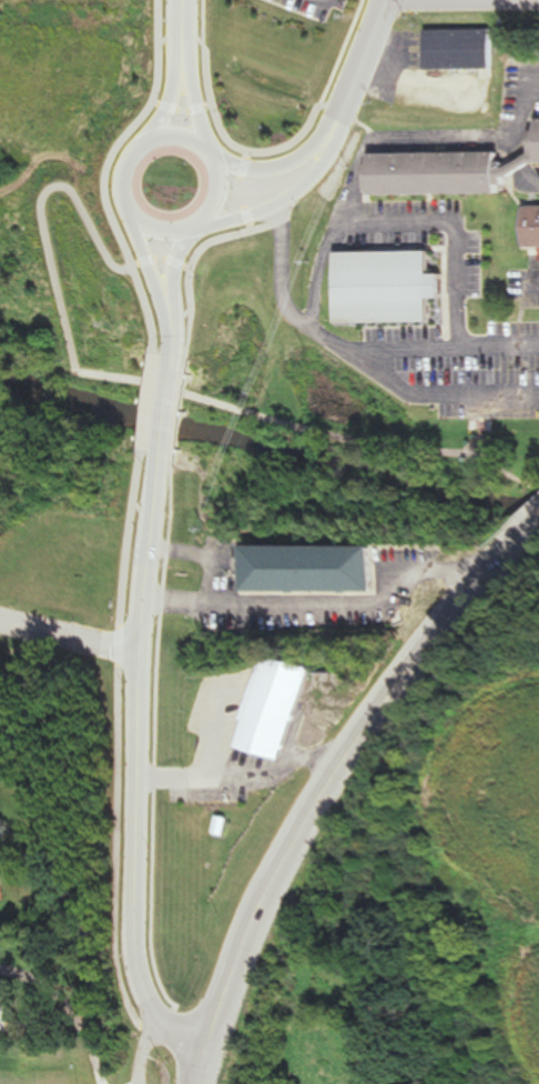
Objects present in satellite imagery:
road: (338, 1)
parking lot: (318, 8)
road: (187, 19)
road: (175, 42)
road: (199, 43)
building: (460, 50)
road: (360, 62)
road: (175, 92)
road: (200, 99)
road: (187, 112)
road: (232, 139)
building: (533, 145)
road: (287, 165)
road: (114, 173)
building: (438, 173)
road: (227, 175)
road: (245, 191)
road: (292, 198)
road: (45, 219)
building: (535, 225)
road: (461, 235)
road: (157, 260)
road: (201, 261)
road: (181, 265)
park: (24, 287)
building: (388, 287)
road: (308, 324)
road: (177, 331)
road: (38, 364)
road: (481, 391)
road: (155, 401)
road: (172, 404)
road: (367, 443)
road: (521, 538)
road: (204, 558)
building: (312, 569)
road: (323, 609)
road: (70, 638)
building: (0, 669)
building: (275, 706)
road: (118, 747)
road: (135, 771)
road: (238, 774)
road: (326, 785)
crop: (476, 817)
building: (3, 880)
road: (72, 1007)
building: (4, 1011)
road: (144, 1048)
road: (207, 1071)

